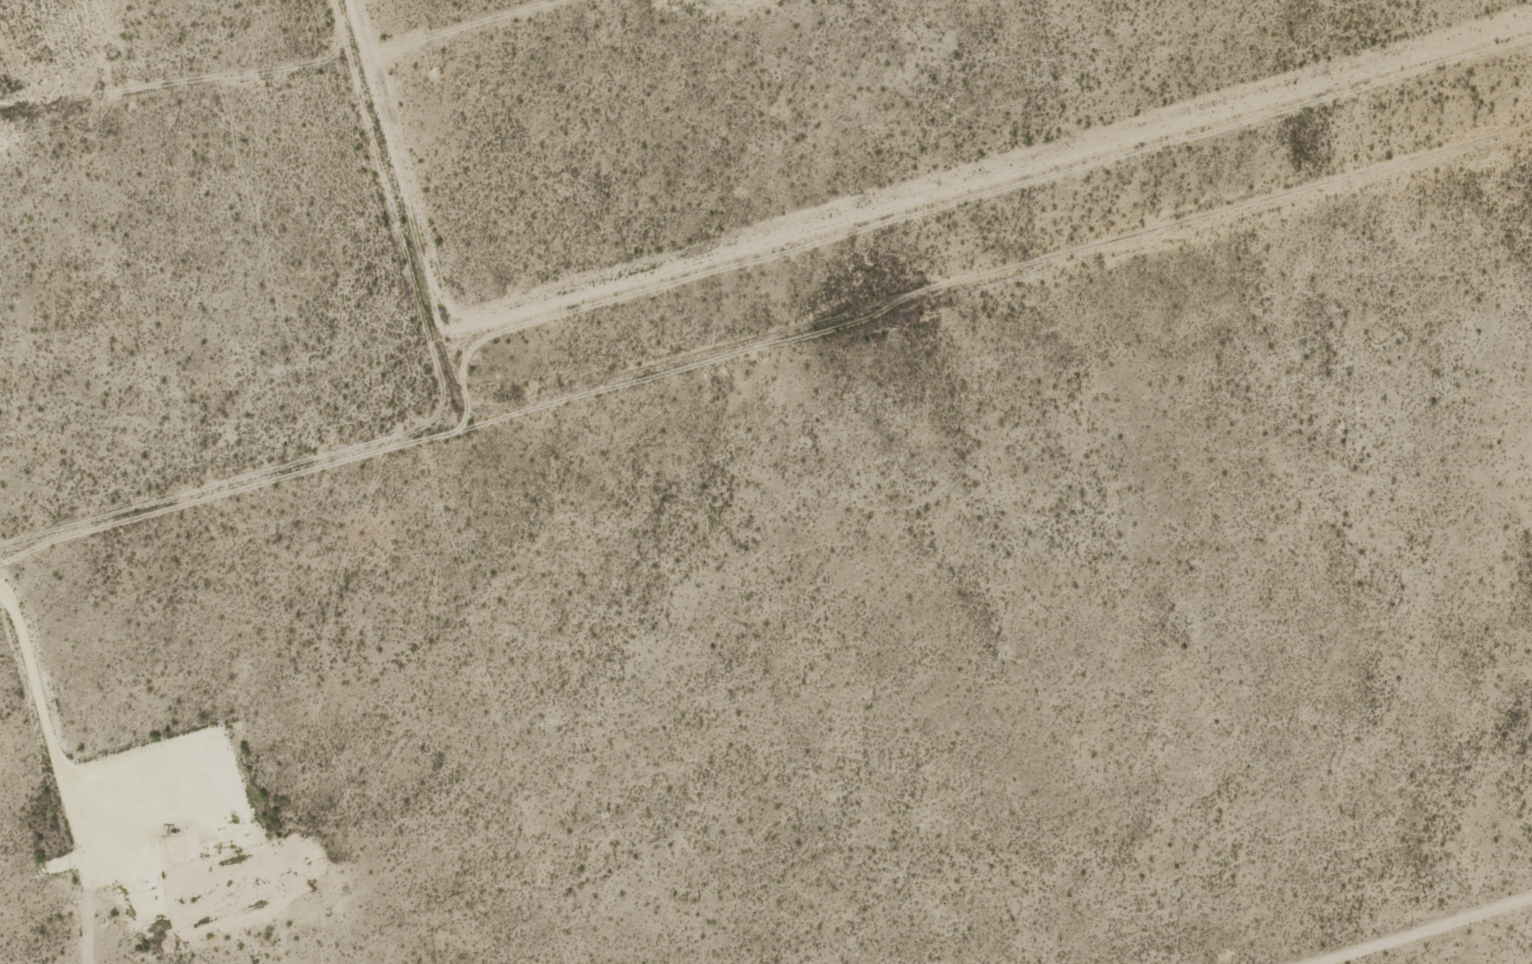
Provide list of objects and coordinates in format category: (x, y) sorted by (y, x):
road: (27, 676)

